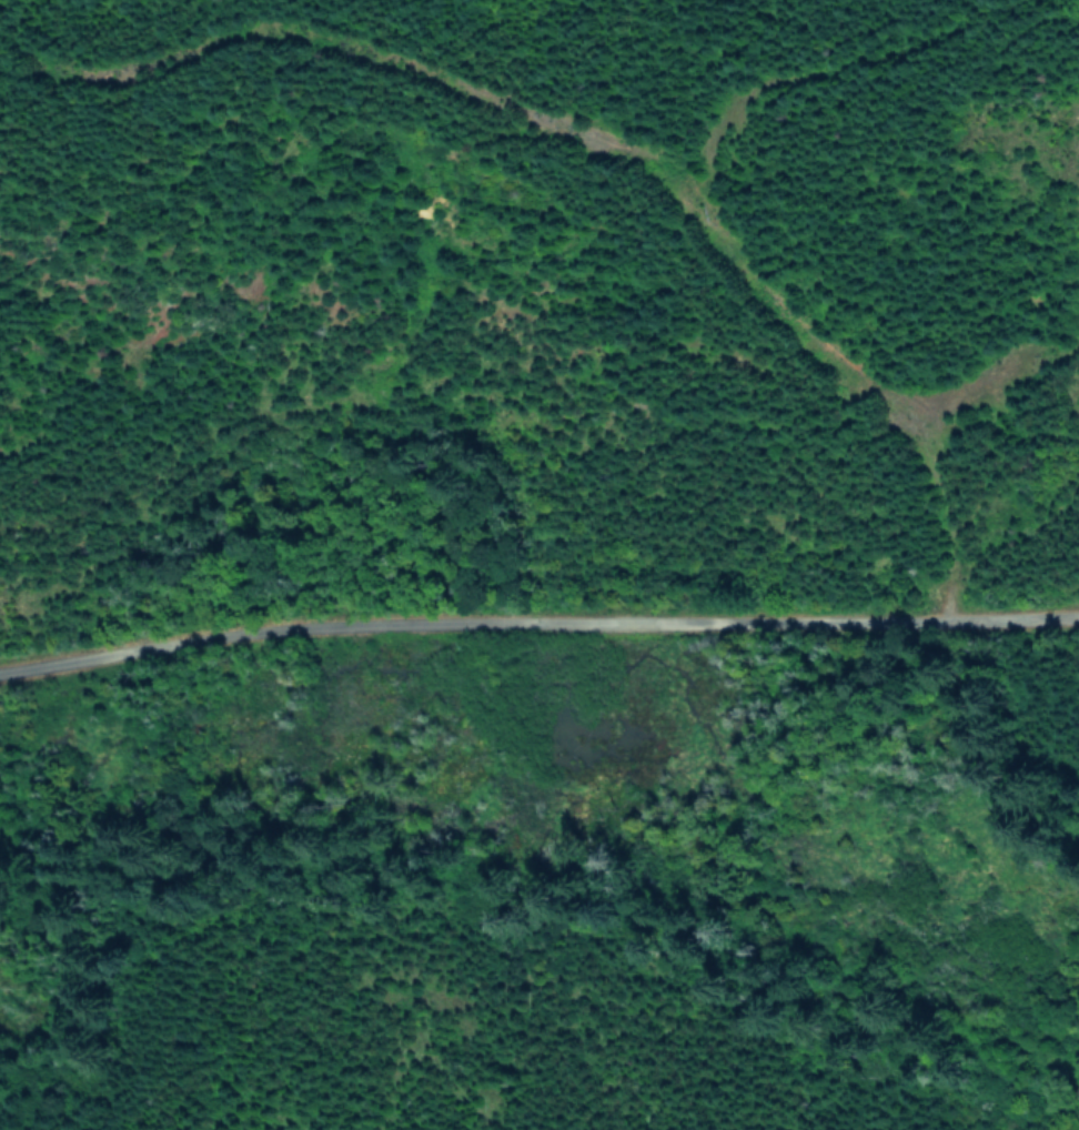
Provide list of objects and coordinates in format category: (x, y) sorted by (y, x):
road: (537, 623)

